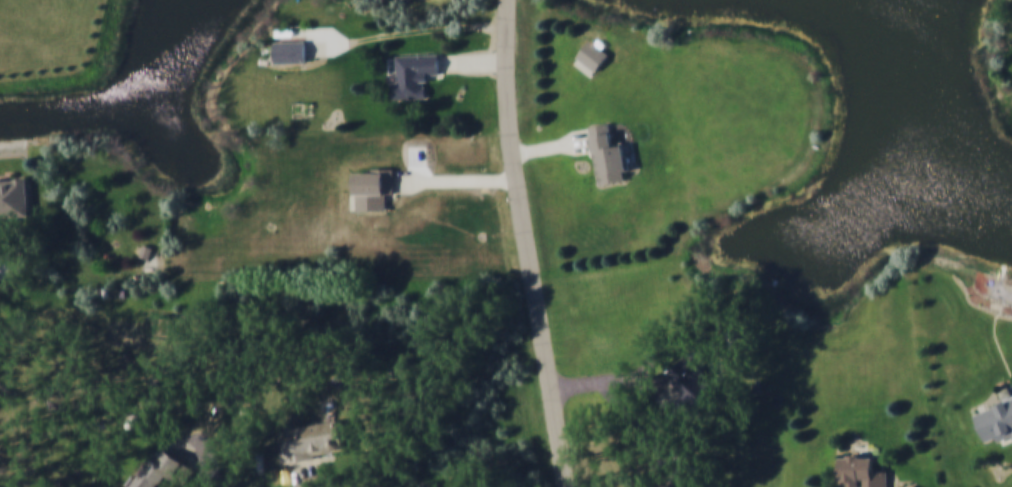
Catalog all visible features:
building: (290, 50)
building: (593, 54)
building: (413, 73)
building: (609, 154)
building: (374, 186)
building: (14, 197)
road: (529, 244)
building: (146, 250)
road: (618, 380)
building: (691, 385)
building: (997, 420)
road: (638, 428)
building: (313, 443)
road: (206, 451)
building: (866, 470)
building: (166, 471)
building: (691, 476)
road: (306, 481)
building: (911, 486)

